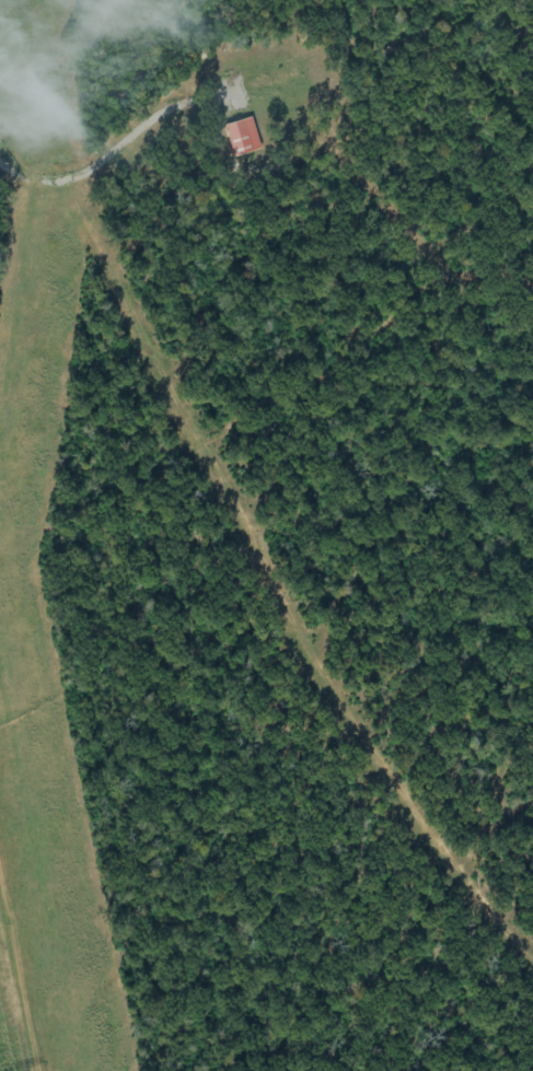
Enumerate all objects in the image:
road: (27, 45)
building: (243, 138)
railway: (211, 535)

